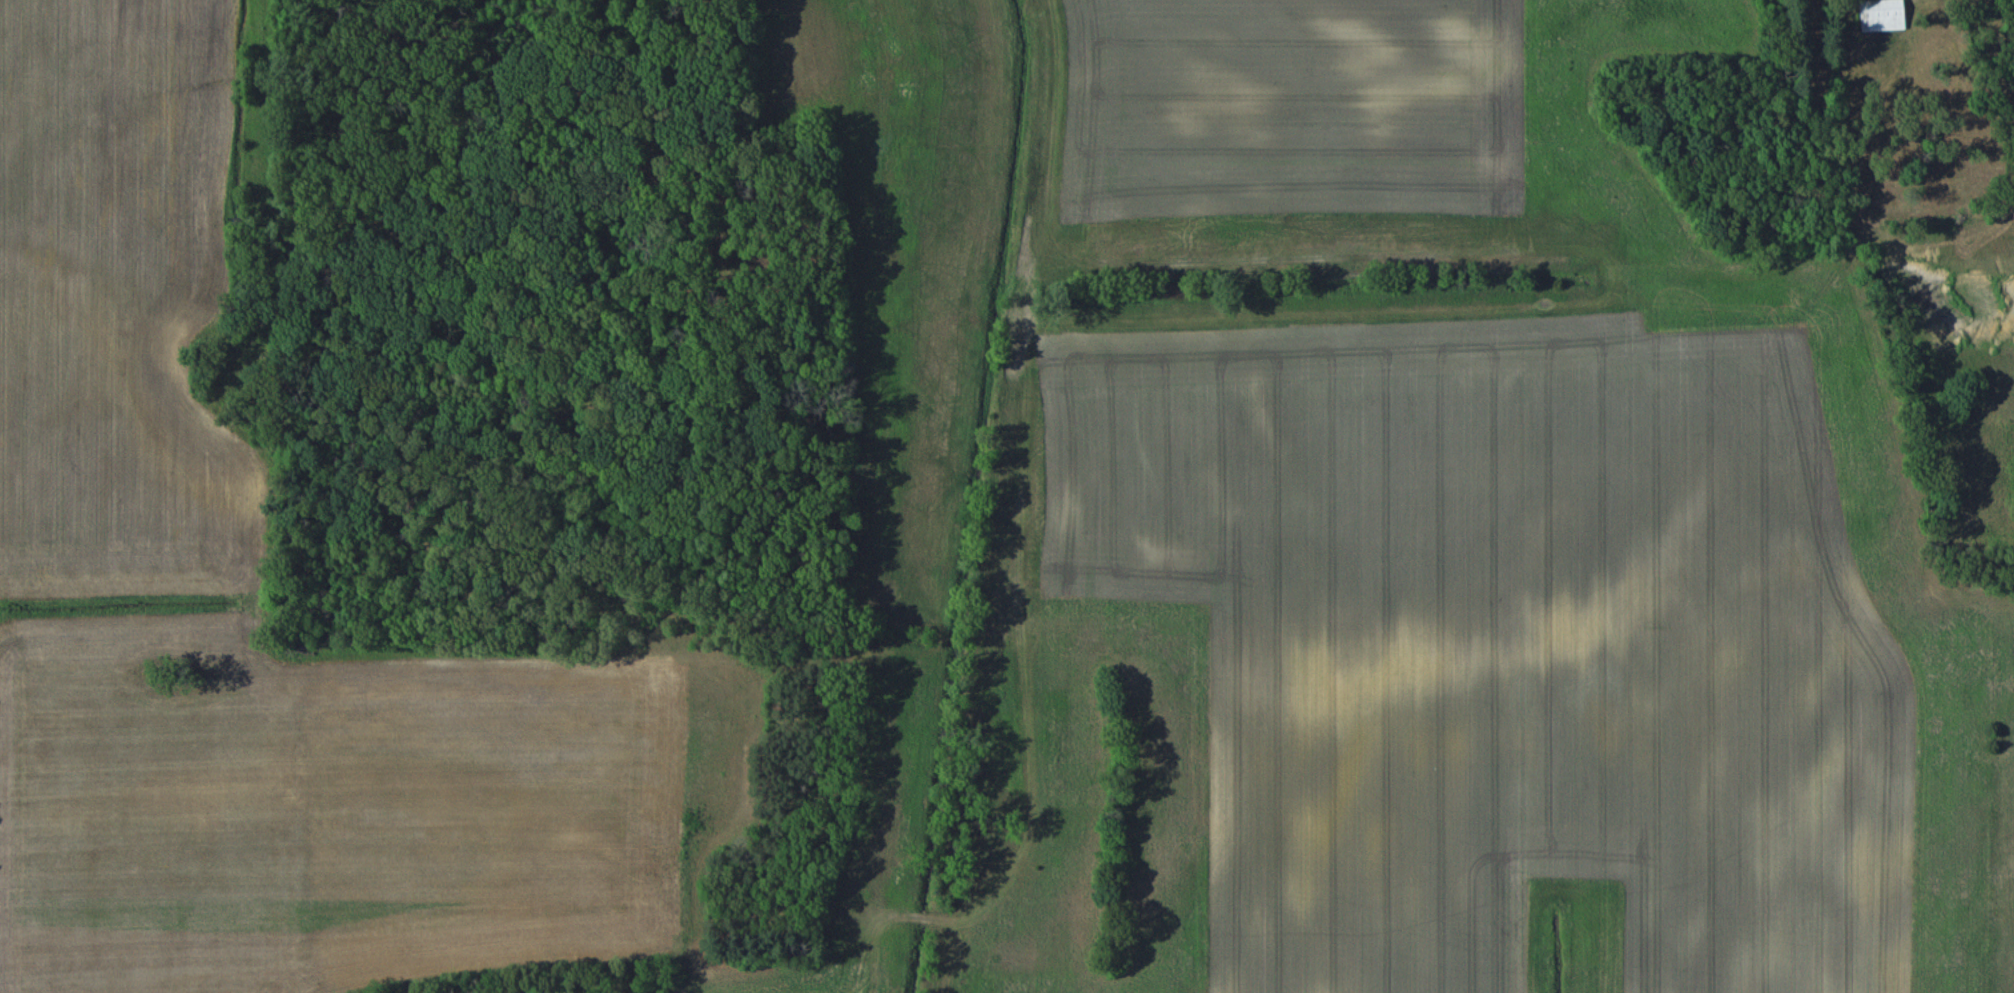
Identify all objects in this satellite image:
building: (1877, 15)

